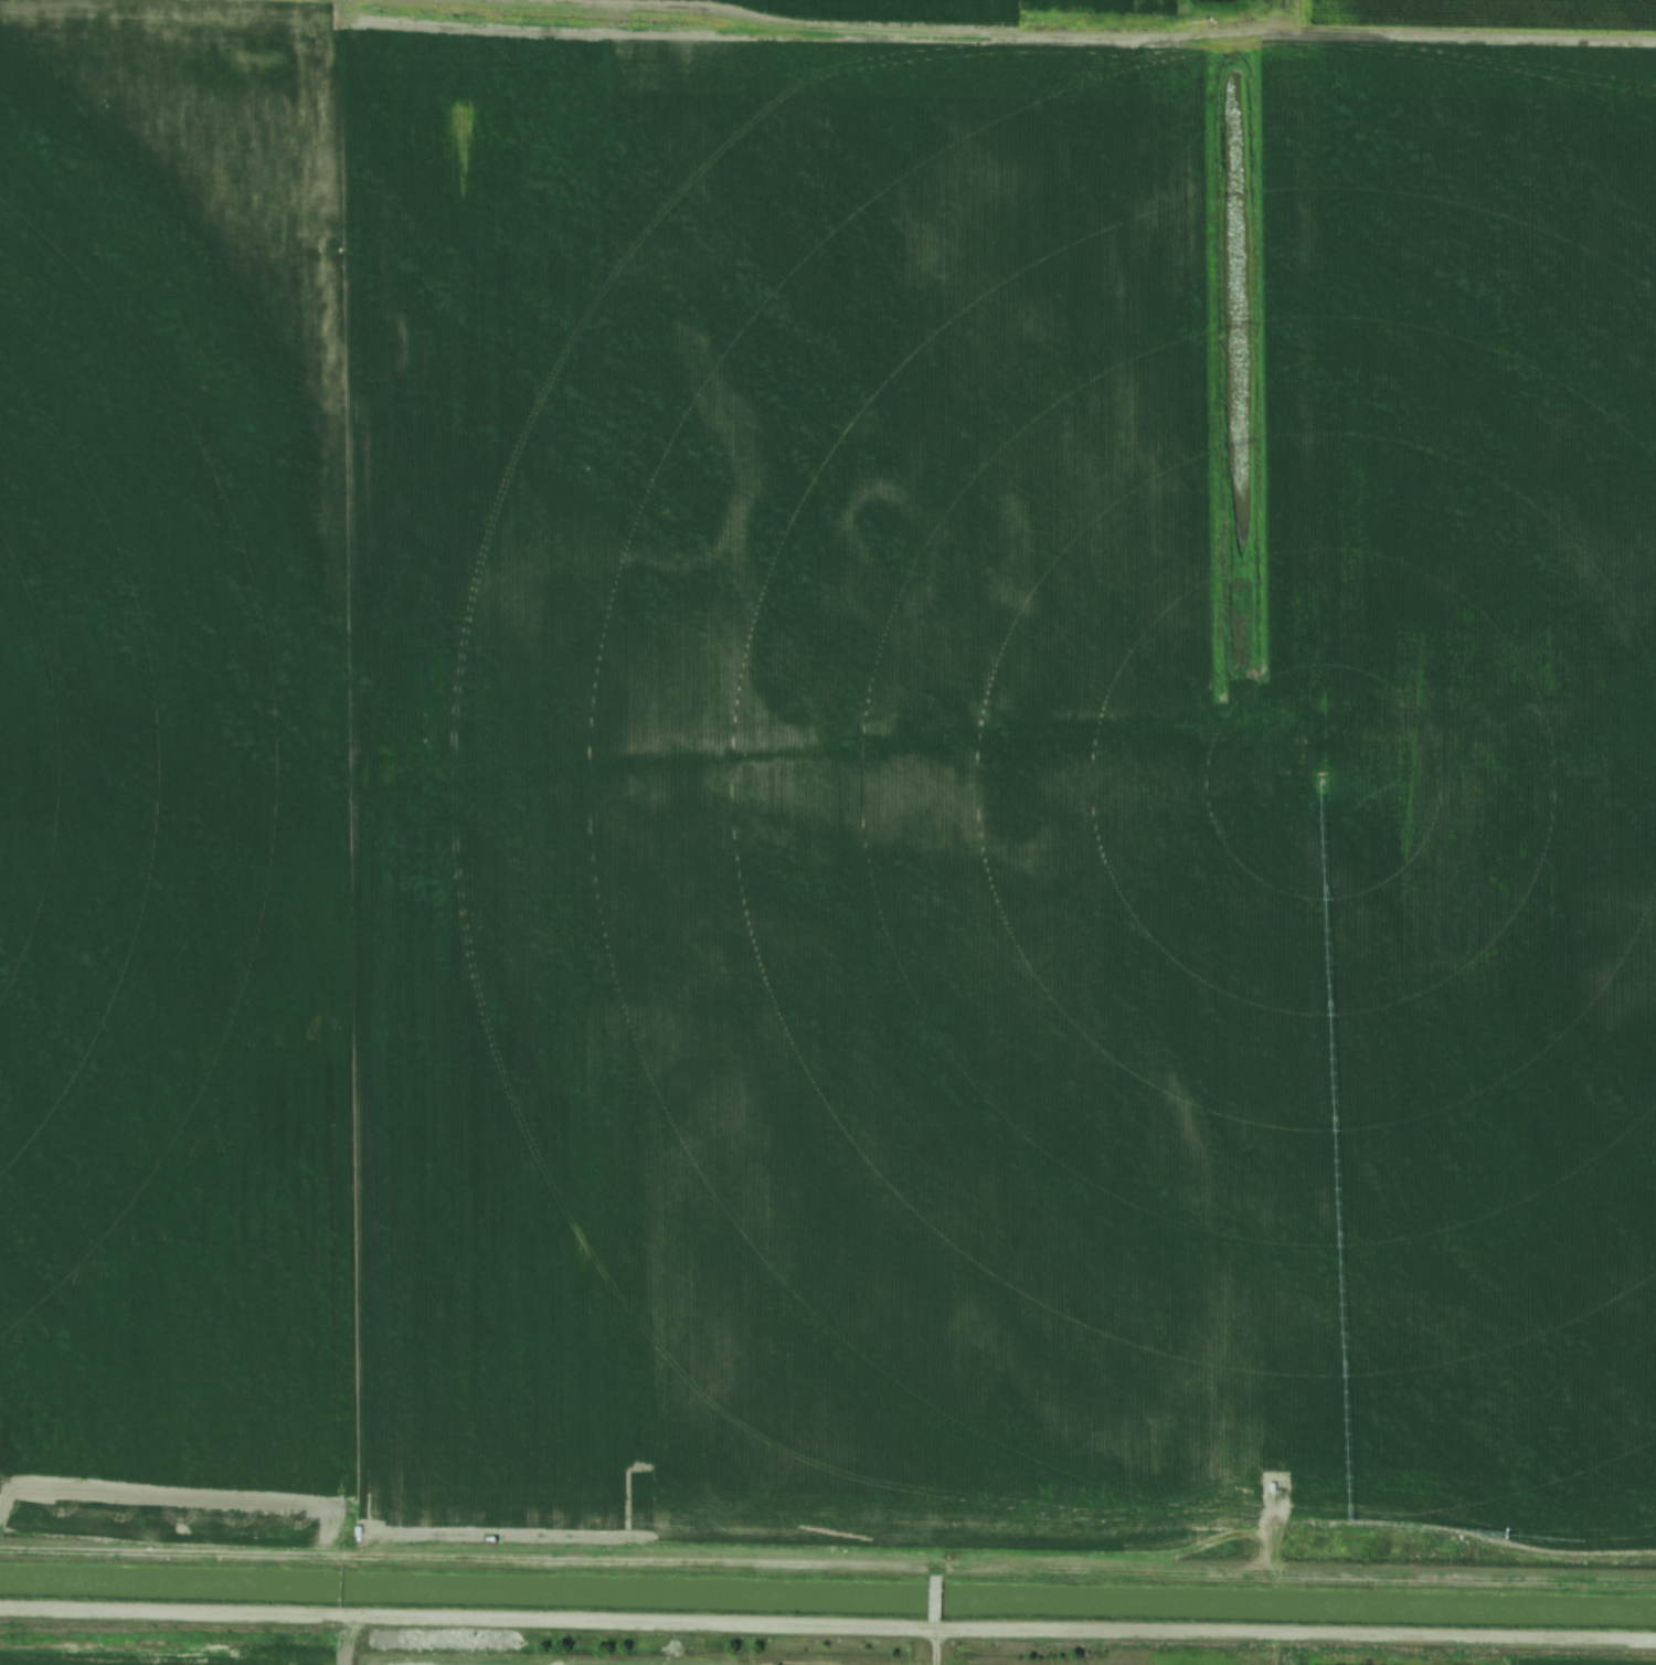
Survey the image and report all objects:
crop: (1483, 12)
road: (828, 1568)
crop: (162, 1653)
crop: (1578, 1658)

